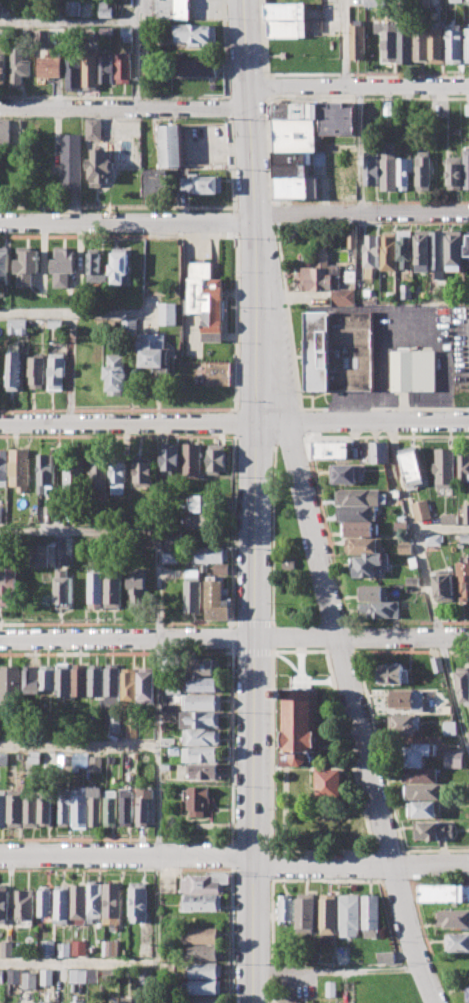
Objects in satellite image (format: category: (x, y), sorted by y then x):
building: (456, 1)
building: (467, 2)
building: (424, 3)
building: (74, 7)
building: (106, 9)
building: (170, 9)
parking lot: (204, 9)
building: (288, 11)
road: (68, 23)
building: (286, 28)
building: (107, 31)
building: (127, 34)
building: (196, 34)
building: (2, 36)
building: (43, 36)
building: (357, 41)
road: (345, 42)
building: (389, 42)
building: (422, 43)
building: (405, 44)
building: (437, 44)
building: (455, 44)
building: (467, 44)
road: (225, 49)
road: (137, 54)
building: (19, 65)
building: (50, 66)
building: (124, 66)
building: (194, 67)
building: (3, 68)
building: (107, 68)
building: (150, 72)
building: (74, 73)
building: (91, 74)
road: (268, 74)
road: (358, 85)
road: (114, 97)
road: (125, 107)
road: (228, 107)
building: (388, 108)
building: (467, 109)
building: (295, 110)
building: (419, 113)
building: (337, 118)
building: (94, 129)
building: (6, 132)
building: (294, 135)
building: (171, 144)
road: (360, 150)
building: (294, 157)
building: (72, 161)
road: (230, 161)
building: (101, 163)
building: (466, 167)
building: (373, 168)
building: (290, 170)
building: (422, 171)
building: (390, 172)
building: (405, 172)
building: (453, 172)
building: (157, 184)
building: (204, 184)
building: (333, 185)
building: (296, 187)
road: (118, 207)
road: (234, 220)
road: (234, 221)
building: (352, 238)
building: (467, 244)
building: (437, 249)
building: (406, 250)
building: (454, 250)
building: (388, 251)
building: (422, 251)
building: (370, 254)
building: (63, 264)
building: (26, 265)
building: (4, 266)
building: (120, 266)
building: (95, 267)
building: (321, 272)
building: (407, 291)
building: (368, 293)
building: (426, 294)
building: (390, 295)
building: (344, 297)
building: (206, 301)
road: (371, 302)
road: (75, 313)
building: (168, 313)
road: (256, 318)
road: (236, 321)
building: (55, 323)
building: (17, 326)
building: (129, 326)
parking lot: (461, 345)
building: (339, 351)
building: (156, 352)
building: (14, 370)
building: (36, 370)
building: (414, 370)
building: (57, 372)
building: (117, 373)
building: (218, 373)
road: (127, 421)
road: (362, 421)
road: (235, 423)
building: (330, 449)
building: (379, 451)
building: (169, 458)
building: (216, 458)
building: (192, 459)
building: (412, 465)
building: (3, 467)
building: (20, 467)
building: (445, 468)
building: (463, 468)
building: (391, 469)
building: (144, 471)
building: (47, 472)
building: (120, 472)
building: (345, 473)
building: (75, 474)
building: (99, 474)
building: (397, 493)
building: (359, 496)
building: (201, 503)
building: (422, 510)
building: (357, 513)
building: (467, 513)
building: (1, 514)
building: (402, 518)
building: (450, 519)
building: (199, 520)
building: (401, 526)
road: (132, 527)
building: (360, 528)
road: (442, 529)
building: (465, 537)
building: (173, 539)
building: (433, 539)
building: (363, 544)
building: (67, 545)
building: (405, 548)
building: (210, 554)
building: (40, 555)
building: (170, 557)
park: (288, 557)
building: (413, 562)
building: (288, 565)
building: (370, 565)
building: (221, 570)
building: (463, 580)
building: (413, 581)
building: (7, 583)
building: (443, 585)
building: (136, 586)
building: (64, 588)
road: (428, 588)
building: (97, 589)
building: (113, 589)
building: (192, 590)
building: (374, 592)
building: (216, 600)
building: (379, 609)
road: (330, 612)
road: (252, 623)
road: (233, 637)
road: (361, 637)
road: (126, 638)
road: (272, 642)
road: (370, 650)
road: (117, 652)
road: (253, 652)
building: (437, 663)
building: (206, 667)
building: (394, 673)
building: (112, 678)
building: (63, 679)
building: (79, 679)
building: (95, 679)
building: (30, 680)
building: (47, 680)
building: (10, 684)
building: (203, 684)
building: (145, 685)
building: (463, 685)
building: (129, 686)
building: (409, 699)
building: (202, 702)
building: (201, 719)
building: (113, 723)
building: (405, 724)
building: (301, 727)
building: (450, 728)
building: (131, 729)
building: (202, 736)
road: (78, 746)
building: (174, 750)
road: (468, 750)
building: (200, 754)
building: (417, 754)
building: (34, 756)
building: (144, 756)
building: (2, 758)
building: (79, 759)
building: (454, 759)
building: (95, 764)
building: (166, 766)
building: (202, 772)
building: (421, 775)
building: (329, 782)
building: (425, 791)
building: (200, 799)
building: (95, 805)
building: (145, 806)
building: (80, 807)
building: (127, 807)
building: (46, 808)
building: (64, 808)
building: (111, 808)
building: (424, 808)
building: (2, 809)
building: (15, 810)
building: (31, 811)
road: (156, 820)
road: (254, 820)
building: (431, 830)
road: (233, 854)
road: (234, 854)
building: (201, 885)
building: (445, 893)
building: (46, 900)
building: (94, 900)
building: (138, 901)
building: (113, 902)
building: (203, 902)
building: (4, 903)
building: (62, 904)
building: (79, 904)
building: (24, 906)
building: (286, 908)
building: (306, 912)
building: (350, 915)
building: (371, 916)
building: (329, 917)
building: (454, 917)
building: (203, 935)
road: (233, 935)
building: (456, 942)
building: (48, 947)
building: (80, 947)
building: (7, 948)
building: (112, 948)
building: (64, 949)
building: (204, 953)
building: (387, 956)
road: (78, 965)
building: (201, 970)
road: (338, 971)
building: (78, 975)
building: (2, 976)
building: (15, 976)
building: (48, 976)
building: (146, 976)
building: (30, 979)
building: (200, 987)
building: (331, 989)
building: (467, 993)
building: (127, 1000)
building: (202, 1000)
building: (2, 1002)
building: (47, 1002)
building: (79, 1002)
building: (287, 1002)

